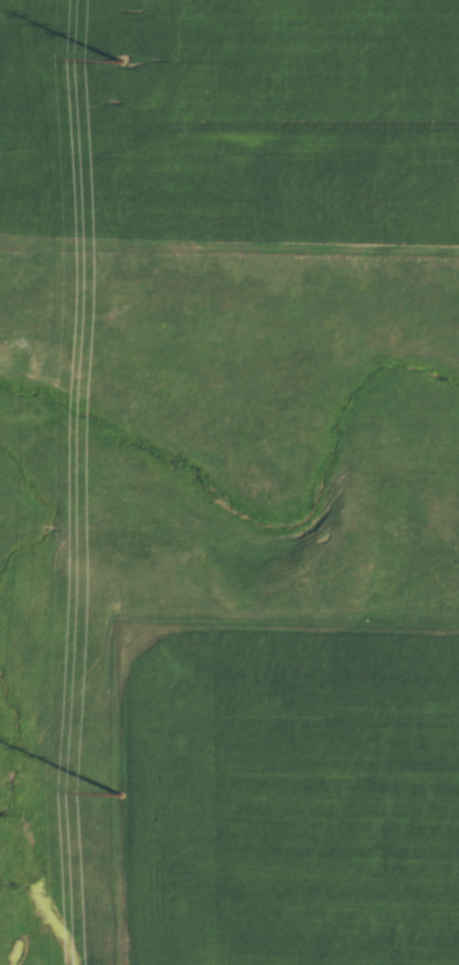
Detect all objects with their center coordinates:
power tower: (123, 56)
power tower: (122, 796)

